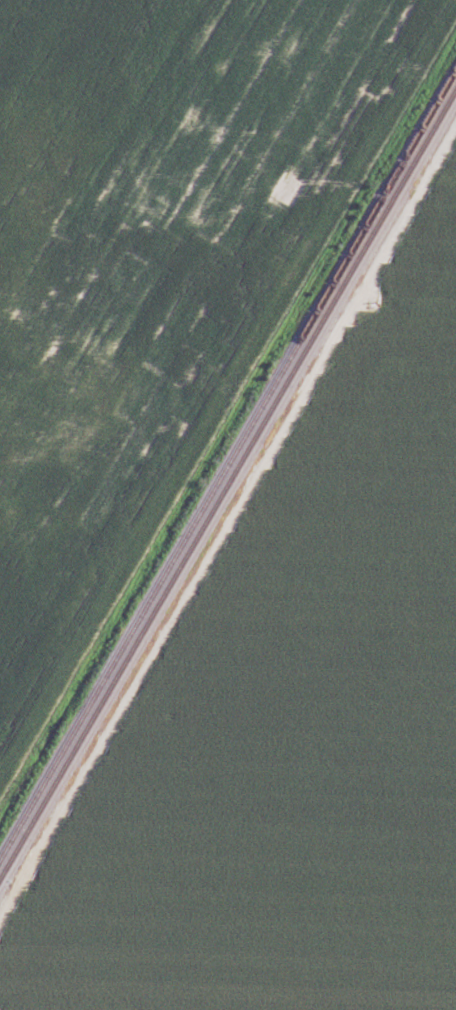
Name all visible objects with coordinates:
railway: (228, 461)
railway: (228, 479)

